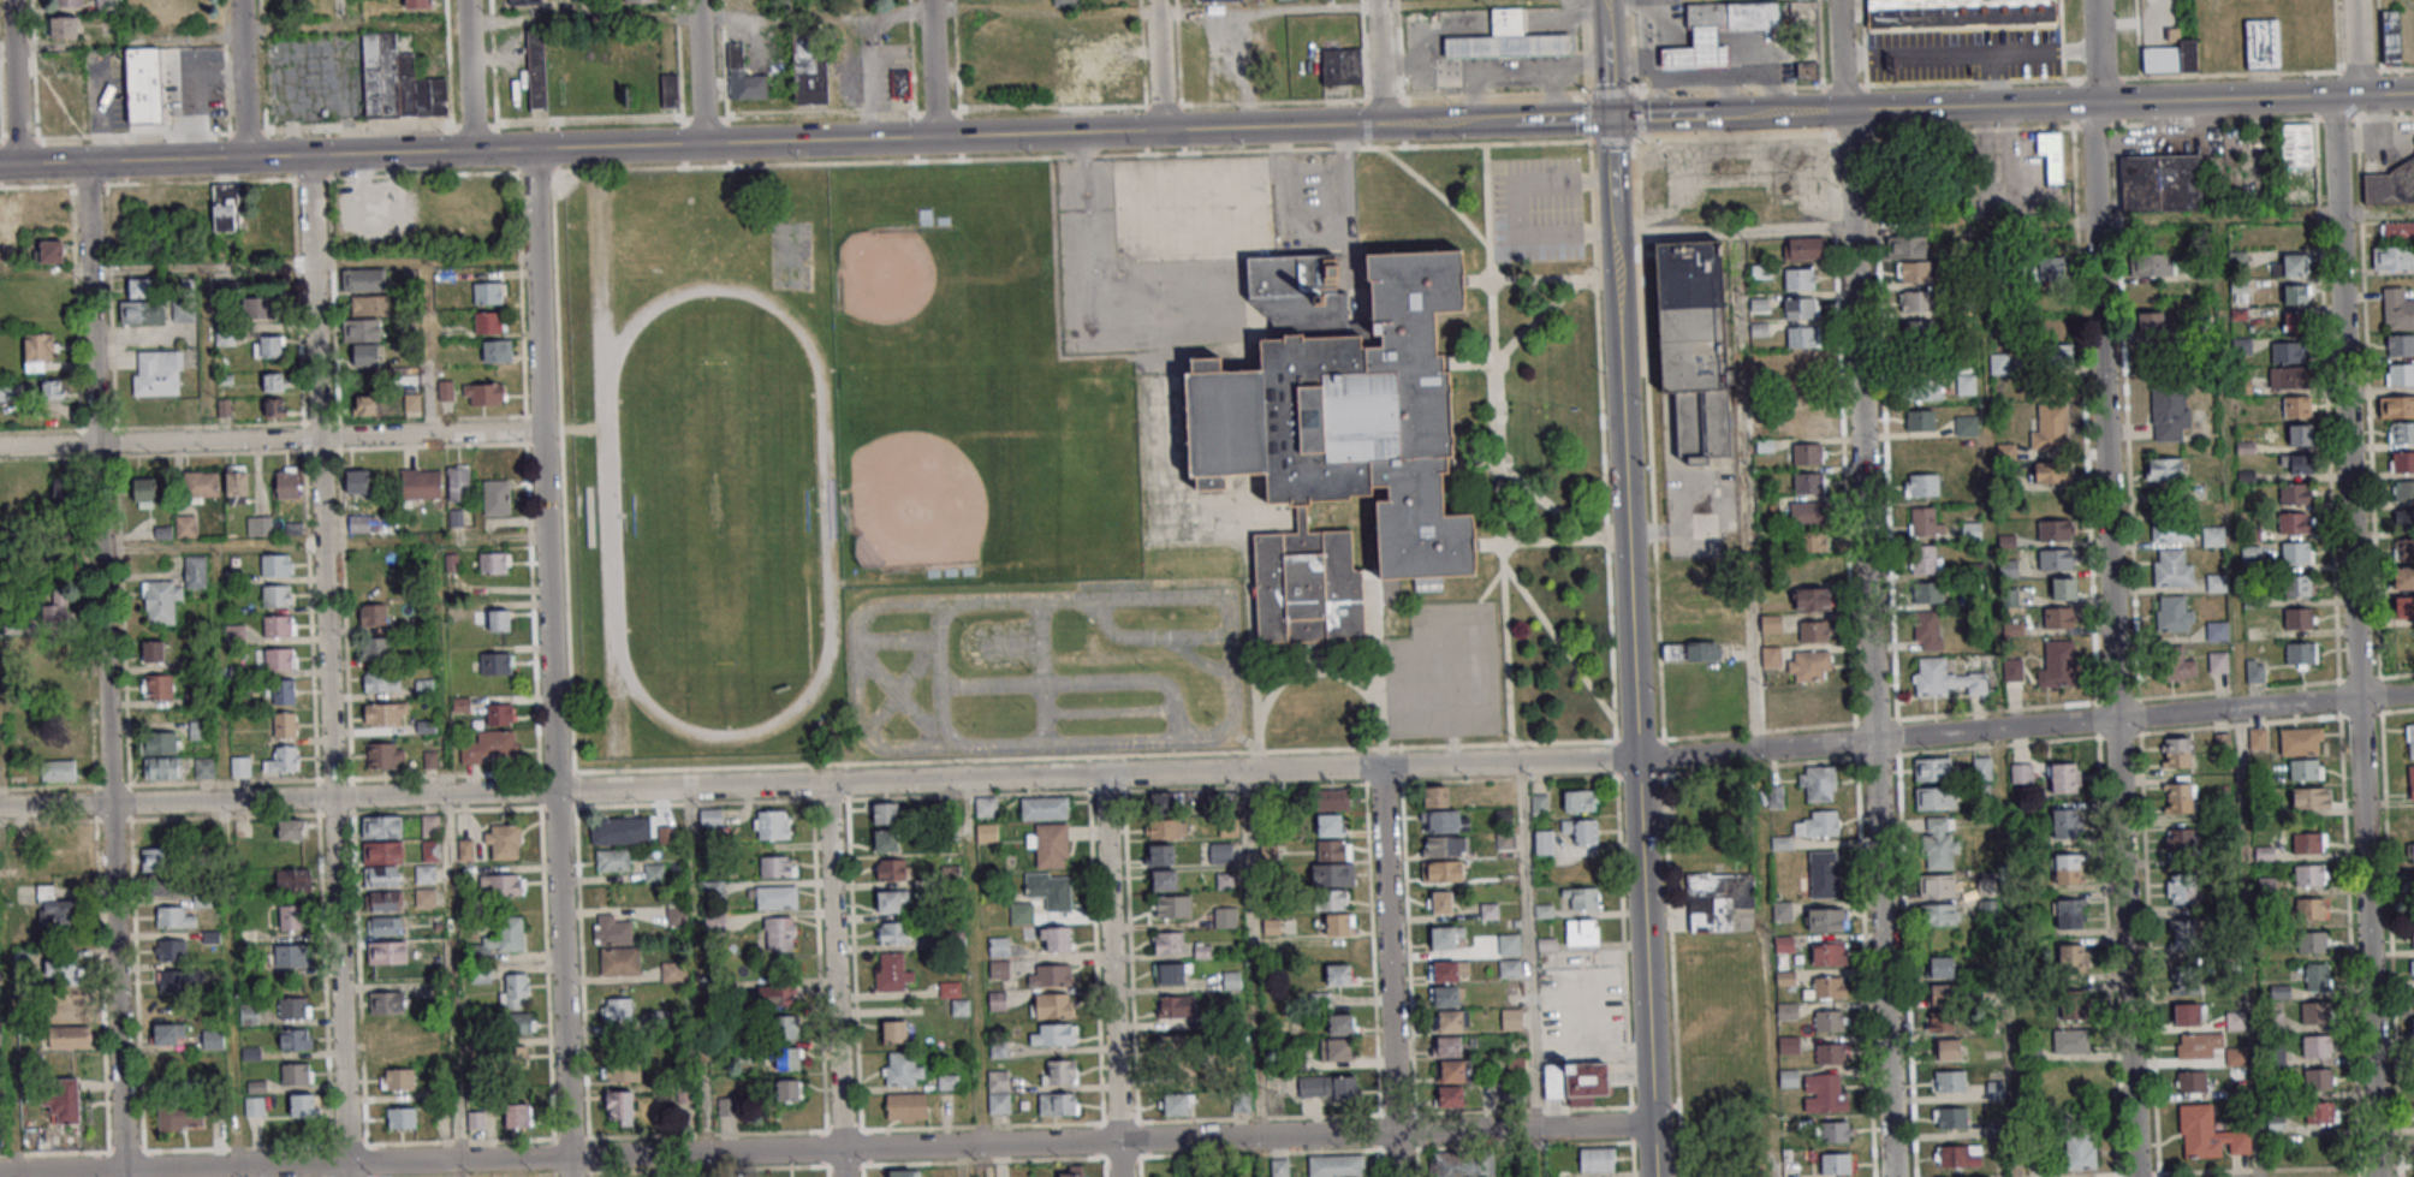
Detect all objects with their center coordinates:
building: (642, 0)
building: (1220, 0)
building: (525, 1)
building: (66, 2)
building: (1065, 2)
building: (417, 4)
road: (1048, 7)
road: (1310, 7)
building: (1960, 13)
building: (1752, 16)
building: (1706, 17)
road: (1572, 23)
building: (1506, 24)
building: (64, 26)
building: (2391, 36)
road: (119, 43)
building: (2263, 43)
building: (1506, 48)
road: (1967, 52)
building: (1696, 54)
building: (2171, 58)
road: (1378, 63)
road: (1158, 65)
building: (1340, 65)
road: (933, 67)
building: (536, 70)
road: (1242, 70)
road: (1492, 70)
road: (702, 71)
building: (809, 71)
road: (470, 75)
building: (743, 77)
road: (242, 78)
road: (1992, 78)
road: (14, 82)
building: (397, 82)
building: (902, 84)
building: (1120, 88)
building: (144, 89)
road: (1553, 91)
building: (670, 94)
road: (1474, 96)
road: (2067, 103)
road: (1664, 115)
road: (1558, 118)
traffic signals: (1609, 118)
road: (2142, 124)
road: (1850, 132)
road: (1731, 136)
road: (1611, 139)
road: (754, 141)
building: (2295, 144)
building: (2051, 154)
road: (793, 164)
building: (2160, 183)
building: (2389, 185)
building: (225, 207)
road: (1512, 209)
road: (2014, 224)
building: (2396, 232)
road: (1318, 244)
building: (1803, 246)
building: (1909, 246)
building: (52, 250)
building: (2394, 257)
road: (267, 262)
building: (2152, 264)
building: (2291, 266)
building: (2050, 267)
building: (1913, 272)
building: (1798, 278)
building: (367, 280)
building: (139, 289)
building: (488, 292)
park: (941, 292)
building: (2296, 293)
road: (1083, 299)
building: (1915, 301)
building: (1759, 304)
building: (369, 305)
building: (1801, 307)
building: (258, 308)
building: (2397, 308)
building: (184, 310)
building: (142, 311)
building: (488, 322)
building: (2296, 322)
building: (2151, 323)
building: (1919, 331)
building: (224, 335)
building: (1803, 335)
building: (363, 340)
building: (1691, 344)
building: (2400, 344)
building: (267, 346)
building: (494, 350)
building: (38, 351)
building: (2288, 351)
building: (2056, 355)
road: (2103, 359)
building: (1807, 361)
building: (1999, 363)
building: (157, 371)
building: (2400, 374)
building: (2289, 376)
building: (274, 382)
building: (1921, 387)
building: (7, 390)
building: (52, 390)
building: (446, 390)
building: (483, 393)
building: (411, 403)
building: (364, 404)
building: (1342, 405)
building: (2296, 406)
building: (2396, 406)
building: (275, 408)
building: (191, 409)
building: (147, 410)
building: (2170, 414)
building: (1920, 420)
building: (1812, 423)
building: (1966, 424)
building: (2050, 427)
building: (2401, 432)
building: (2300, 434)
road: (270, 439)
building: (1808, 453)
building: (2401, 460)
building: (2296, 463)
building: (2164, 468)
park: (988, 470)
building: (2051, 472)
building: (357, 482)
building: (458, 482)
building: (1809, 482)
building: (202, 483)
building: (237, 483)
building: (286, 483)
building: (422, 483)
building: (1921, 485)
building: (2402, 489)
building: (145, 491)
building: (2295, 493)
building: (497, 497)
building: (1807, 511)
building: (2403, 517)
building: (1925, 522)
building: (2294, 522)
building: (359, 523)
road: (1189, 524)
building: (185, 525)
building: (260, 525)
building: (2170, 528)
building: (2055, 529)
building: (1970, 530)
building: (2212, 535)
building: (1812, 541)
building: (2403, 548)
building: (2297, 552)
building: (1926, 558)
building: (2056, 559)
building: (494, 563)
building: (277, 564)
building: (2172, 566)
building: (196, 572)
building: (2216, 582)
building: (369, 585)
building: (2297, 585)
road: (2353, 585)
building: (1306, 588)
road: (1628, 588)
road: (1867, 588)
building: (2064, 588)
building: (2403, 592)
building: (277, 595)
building: (2006, 595)
building: (160, 601)
building: (1812, 601)
building: (58, 608)
building: (2172, 613)
building: (373, 614)
building: (2058, 617)
building: (2297, 618)
building: (499, 619)
building: (279, 625)
building: (1814, 630)
building: (1928, 630)
building: (2217, 630)
building: (375, 648)
building: (153, 650)
building: (1702, 650)
building: (2300, 654)
building: (1771, 656)
building: (280, 658)
road: (551, 661)
building: (2175, 661)
building: (2218, 661)
building: (497, 662)
building: (2057, 664)
building: (1809, 665)
road: (327, 666)
road: (105, 668)
road: (1318, 671)
building: (2257, 672)
building: (1945, 678)
building: (381, 680)
building: (59, 685)
building: (424, 685)
building: (156, 686)
building: (284, 690)
building: (1774, 699)
building: (1815, 701)
road: (1996, 701)
road: (1753, 702)
building: (500, 713)
building: (385, 715)
building: (285, 724)
building: (198, 730)
road: (1752, 732)
building: (59, 736)
building: (2258, 737)
building: (2409, 739)
building: (2301, 741)
building: (159, 742)
building: (489, 745)
building: (2177, 751)
building: (385, 755)
building: (283, 760)
building: (240, 766)
building: (204, 767)
building: (1982, 767)
building: (162, 768)
building: (1932, 768)
building: (2306, 768)
road: (1207, 769)
building: (58, 772)
building: (2021, 772)
building: (2064, 777)
building: (2410, 781)
building: (1818, 783)
building: (2180, 795)
building: (1437, 796)
building: (1776, 796)
building: (2311, 797)
building: (1936, 798)
building: (1332, 799)
building: (1580, 799)
building: (1540, 803)
building: (987, 806)
building: (1044, 808)
building: (886, 813)
building: (1443, 821)
building: (2064, 822)
building: (772, 824)
building: (1819, 824)
building: (2412, 824)
building: (382, 827)
building: (290, 828)
building: (1167, 828)
building: (1581, 830)
building: (622, 831)
building: (61, 838)
building: (887, 839)
building: (1505, 839)
building: (504, 842)
building: (1544, 842)
building: (2180, 842)
building: (2306, 842)
building: (1780, 843)
building: (1938, 843)
building: (1050, 844)
building: (1445, 845)
building: (430, 850)
building: (465, 850)
building: (1332, 851)
building: (382, 852)
building: (1220, 852)
building: (2410, 852)
building: (1160, 854)
building: (156, 858)
building: (612, 860)
building: (778, 866)
building: (2068, 866)
building: (892, 869)
building: (1441, 870)
building: (654, 873)
building: (1824, 873)
building: (424, 874)
building: (2309, 874)
building: (383, 875)
building: (1164, 879)
building: (293, 880)
building: (1986, 882)
building: (2409, 884)
building: (1937, 885)
building: (170, 886)
building: (503, 886)
building: (2180, 888)
building: (1051, 890)
building: (426, 897)
building: (774, 897)
building: (1580, 898)
building: (1331, 899)
building: (1717, 899)
building: (386, 900)
building: (892, 900)
building: (1439, 902)
building: (1170, 905)
building: (1986, 906)
building: (2312, 908)
building: (55, 909)
building: (2069, 911)
building: (1021, 913)
building: (1939, 914)
building: (676, 916)
building: (174, 917)
building: (291, 917)
building: (1225, 917)
building: (1826, 919)
building: (717, 922)
building: (1337, 925)
building: (386, 926)
building: (613, 931)
building: (1581, 931)
building: (893, 933)
building: (2184, 933)
building: (779, 934)
building: (1445, 937)
building: (500, 939)
building: (953, 939)
building: (1056, 939)
building: (2412, 939)
building: (1167, 941)
building: (2311, 941)
road: (2248, 943)
building: (1509, 944)
building: (1784, 944)
road: (1528, 946)
building: (171, 949)
road: (2125, 949)
building: (387, 952)
road: (1253, 952)
building: (1829, 952)
building: (292, 955)
building: (2071, 957)
building: (619, 962)
building: (1939, 965)
building: (2412, 969)
building: (672, 970)
building: (1447, 970)
building: (65, 971)
building: (891, 971)
road: (1389, 971)
building: (1170, 973)
building: (1050, 974)
building: (1340, 974)
road: (1111, 975)
building: (2317, 976)
road: (973, 977)
building: (176, 980)
road: (834, 980)
building: (2184, 980)
road: (697, 981)
road: (230, 983)
road: (453, 985)
building: (1827, 987)
building: (950, 988)
building: (513, 991)
building: (777, 994)
building: (1940, 994)
building: (1444, 997)
building: (2413, 998)
building: (997, 1000)
building: (387, 1001)
road: (7, 1003)
building: (1051, 1005)
building: (2076, 1005)
building: (959, 1006)
building: (1175, 1006)
building: (67, 1007)
building: (295, 1007)
building: (165, 1009)
building: (617, 1009)
building: (2313, 1011)
building: (249, 1012)
building: (2189, 1013)
building: (1512, 1018)
building: (2235, 1018)
building: (659, 1020)
building: (1830, 1020)
building: (1452, 1021)
building: (1940, 1021)
building: (517, 1022)
building: (1340, 1023)
building: (392, 1027)
building: (786, 1027)
building: (2412, 1028)
building: (893, 1030)
building: (170, 1034)
building: (1054, 1034)
building: (70, 1036)
building: (213, 1039)
building: (296, 1039)
building: (2070, 1040)
building: (2198, 1044)
building: (1178, 1045)
building: (2317, 1045)
building: (1449, 1046)
building: (1948, 1048)
building: (1336, 1050)
building: (1832, 1052)
building: (2235, 1056)
building: (787, 1058)
building: (512, 1059)
building: (1516, 1065)
building: (623, 1069)
building: (903, 1069)
building: (1058, 1071)
building: (1451, 1071)
building: (1178, 1072)
building: (296, 1074)
building: (1789, 1077)
building: (2318, 1078)
building: (397, 1080)
building: (1553, 1080)
building: (1948, 1081)
building: (1583, 1082)
building: (2192, 1082)
building: (1326, 1086)
building: (789, 1089)
building: (1994, 1089)
building: (998, 1092)
building: (1825, 1092)
building: (1512, 1094)
building: (1449, 1095)
building: (63, 1099)
building: (1057, 1102)
building: (1241, 1102)
building: (1176, 1104)
building: (304, 1105)
building: (620, 1106)
building: (905, 1106)
building: (2320, 1111)
building: (518, 1117)
building: (1950, 1117)
building: (180, 1118)
building: (400, 1119)
building: (475, 1120)
road: (1593, 1128)
building: (1835, 1131)
building: (2208, 1134)
road: (767, 1151)
building: (2080, 1151)
road: (1535, 1153)
building: (1957, 1155)
building: (1594, 1159)
building: (1836, 1163)
building: (1336, 1165)
building: (1473, 1167)
road: (240, 1172)
building: (1070, 1172)
building: (904, 1173)
building: (1559, 1173)

